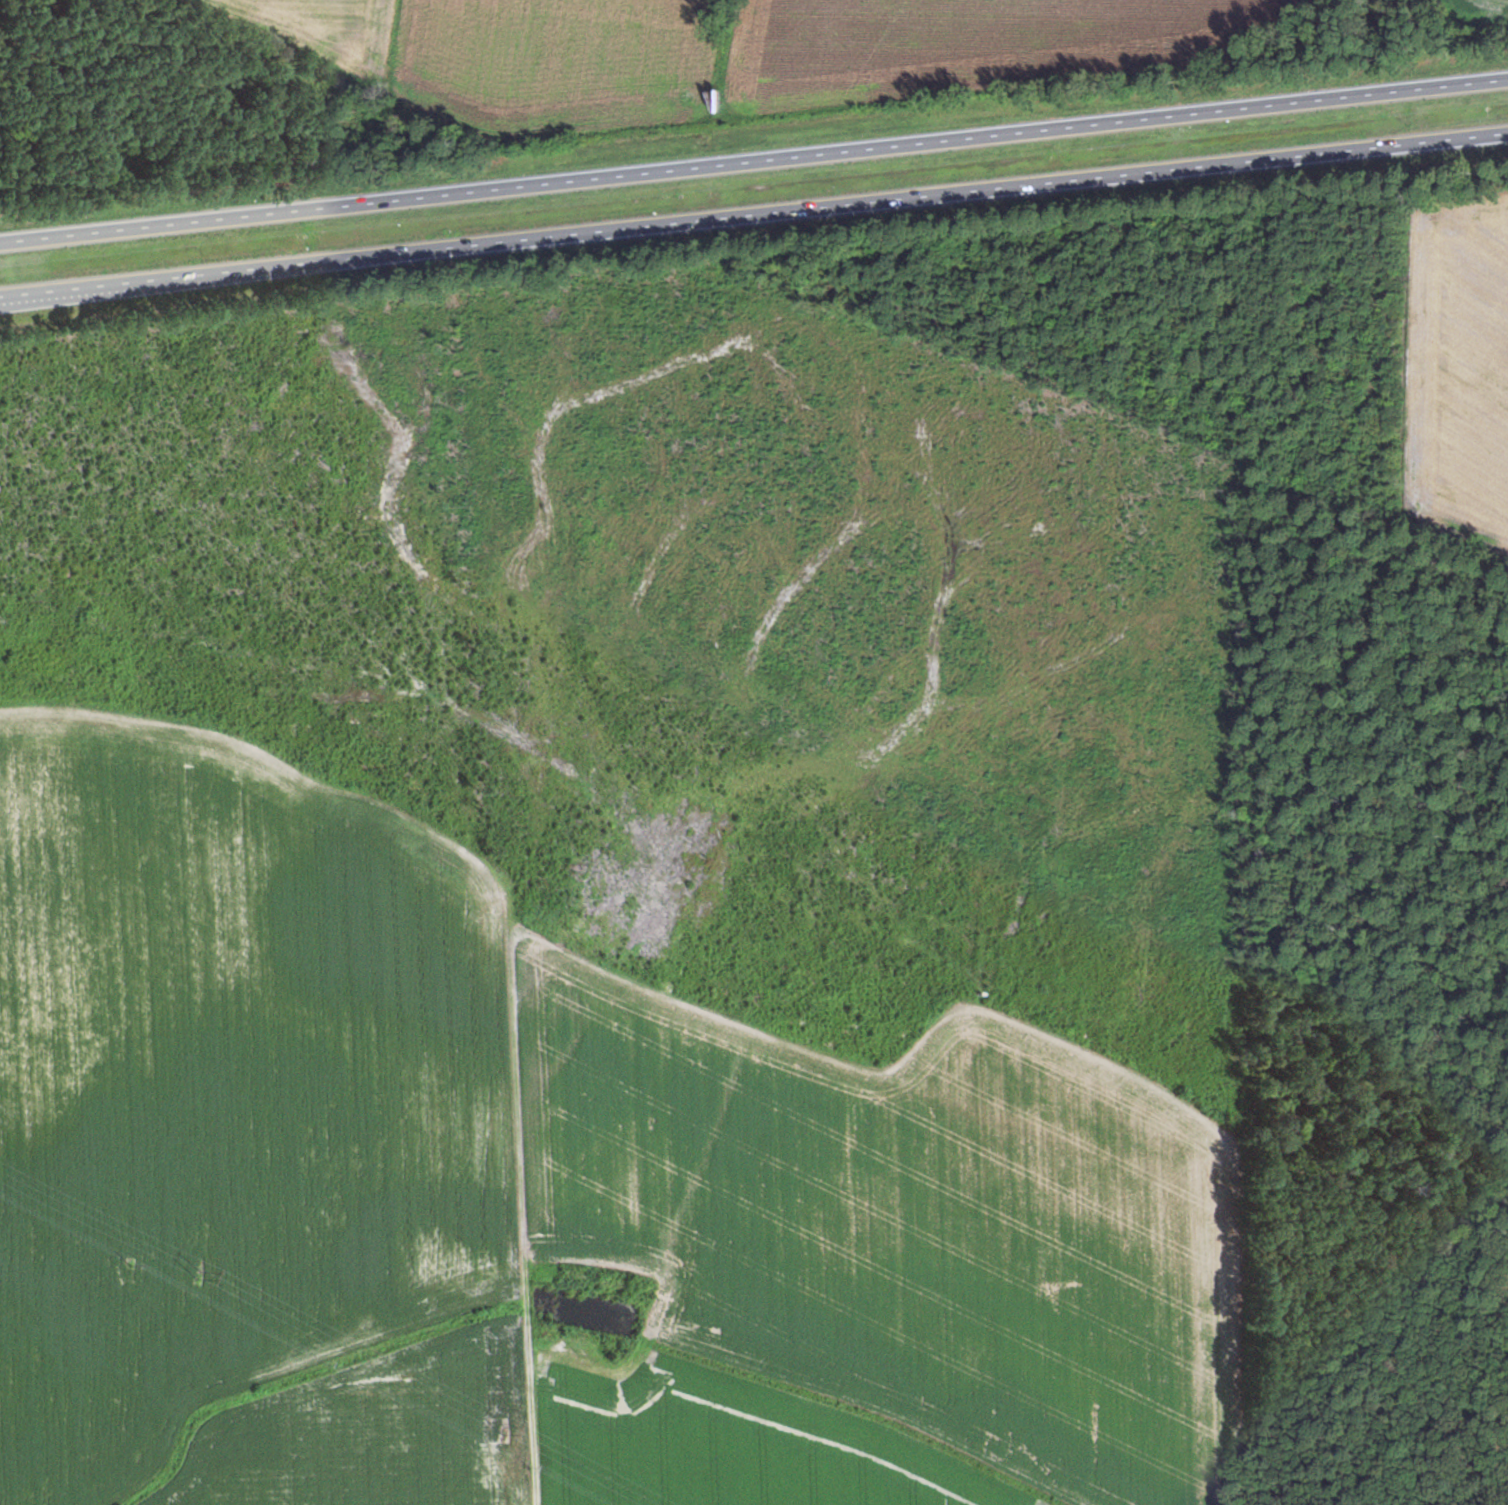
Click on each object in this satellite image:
road: (753, 159)
road: (753, 212)
power tower: (198, 1276)
power tower: (505, 1432)

